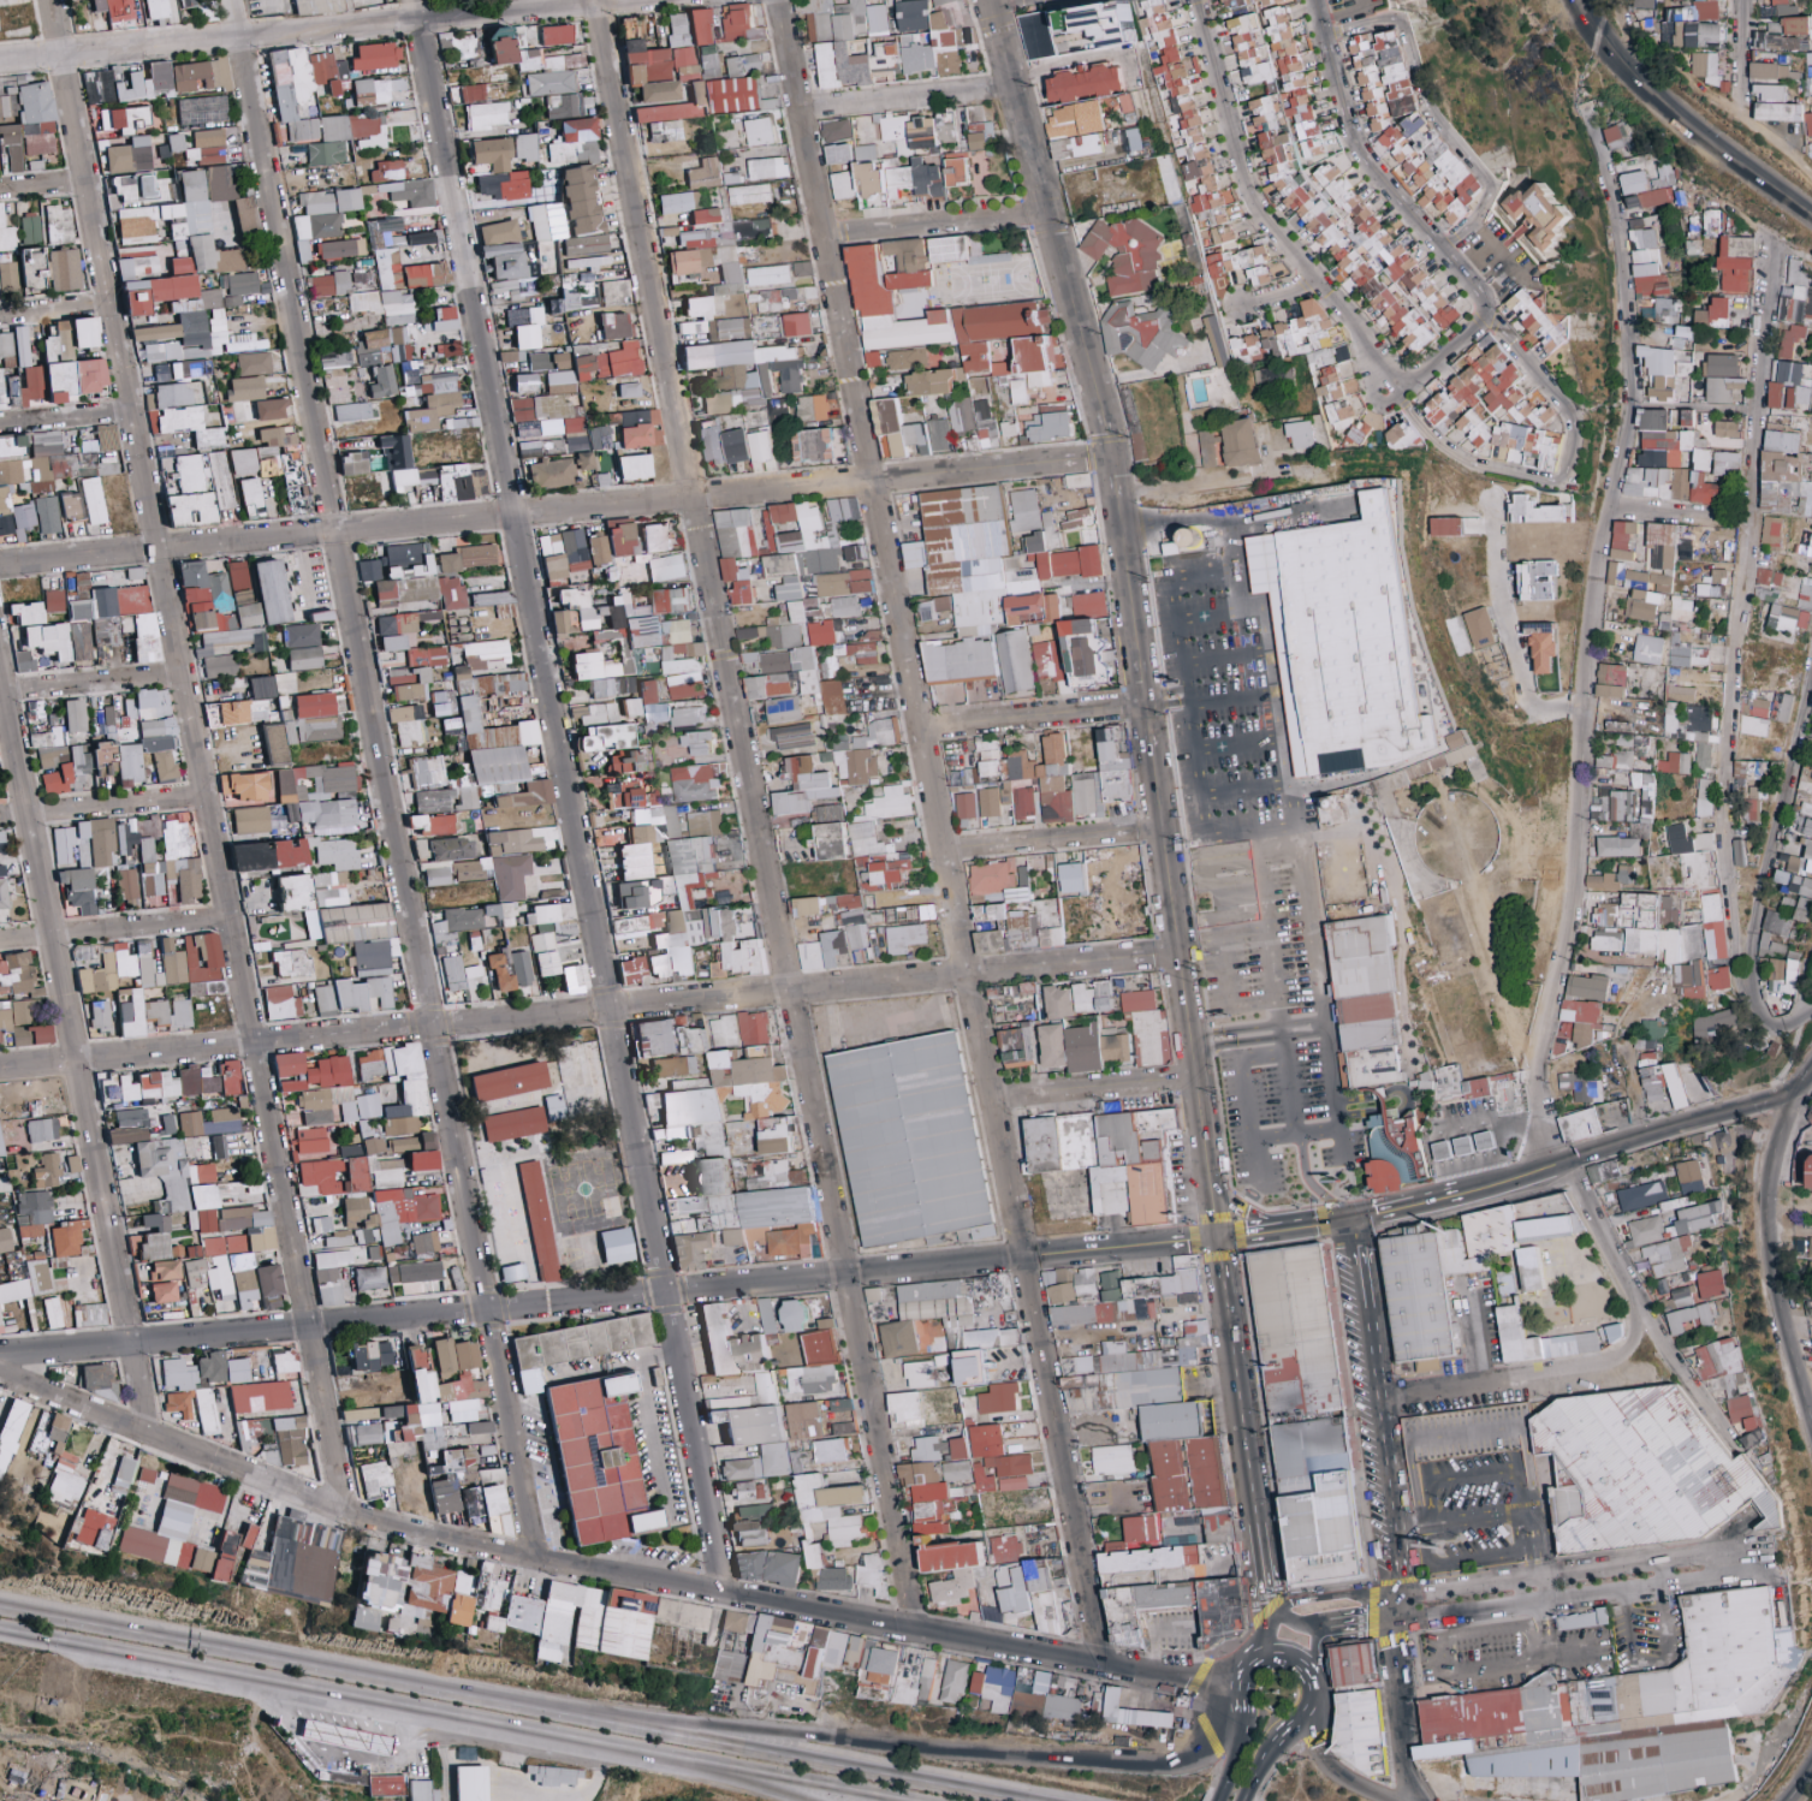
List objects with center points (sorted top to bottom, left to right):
building: (203, 0)
building: (391, 1)
building: (1267, 1)
building: (1778, 1)
building: (190, 4)
building: (1235, 4)
building: (1642, 4)
building: (100, 5)
building: (145, 5)
building: (349, 5)
building: (303, 6)
building: (326, 6)
building: (158, 8)
building: (120, 10)
building: (208, 10)
building: (1704, 10)
building: (1786, 10)
road: (279, 13)
building: (183, 14)
building: (913, 14)
road: (237, 17)
building: (183, 18)
building: (832, 18)
building: (875, 18)
building: (1070, 20)
building: (161, 22)
building: (738, 23)
building: (1107, 23)
building: (1796, 24)
building: (701, 26)
building: (1671, 28)
building: (679, 29)
building: (556, 34)
building: (1705, 34)
building: (1035, 35)
building: (938, 40)
building: (1780, 41)
building: (459, 43)
building: (500, 44)
building: (1250, 49)
road: (1742, 50)
building: (684, 55)
building: (375, 57)
building: (708, 58)
road: (1616, 58)
building: (545, 60)
building: (856, 63)
building: (743, 64)
road: (1600, 65)
building: (647, 66)
building: (1706, 66)
building: (1769, 71)
building: (200, 75)
building: (145, 82)
building: (549, 82)
building: (1086, 83)
building: (100, 84)
building: (376, 89)
building: (1770, 91)
building: (473, 93)
building: (735, 96)
building: (295, 105)
building: (563, 105)
building: (202, 109)
building: (1780, 112)
building: (486, 115)
building: (671, 115)
building: (1074, 118)
building: (125, 119)
building: (1807, 124)
building: (946, 126)
building: (836, 127)
building: (1409, 127)
building: (760, 131)
building: (978, 135)
building: (1618, 137)
building: (574, 139)
building: (1134, 139)
building: (176, 142)
building: (10, 147)
building: (525, 147)
building: (1076, 147)
building: (492, 153)
building: (838, 154)
building: (910, 156)
building: (767, 167)
building: (388, 170)
building: (868, 172)
building: (956, 172)
building: (703, 174)
building: (219, 184)
building: (504, 185)
building: (842, 185)
building: (1647, 188)
building: (408, 191)
building: (748, 194)
building: (581, 200)
building: (316, 201)
building: (676, 202)
building: (244, 214)
building: (1538, 214)
building: (327, 216)
building: (547, 221)
building: (1710, 222)
building: (59, 224)
building: (182, 226)
building: (31, 228)
building: (721, 228)
building: (381, 230)
building: (498, 231)
building: (6, 233)
building: (414, 239)
building: (586, 244)
building: (340, 249)
building: (949, 249)
building: (303, 251)
building: (1125, 254)
building: (505, 258)
building: (588, 262)
building: (1645, 263)
building: (1734, 263)
building: (1235, 264)
building: (137, 266)
building: (801, 268)
building: (34, 269)
building: (64, 269)
building: (684, 269)
building: (426, 275)
building: (766, 275)
building: (7, 277)
building: (329, 284)
building: (506, 290)
building: (385, 292)
building: (614, 292)
building: (788, 293)
building: (1795, 296)
building: (572, 298)
building: (768, 301)
building: (988, 314)
building: (1712, 314)
building: (188, 315)
building: (695, 315)
building: (444, 317)
building: (1533, 320)
building: (525, 326)
building: (731, 326)
building: (84, 332)
building: (1137, 334)
building: (1789, 337)
building: (63, 340)
building: (1216, 341)
building: (400, 343)
building: (1243, 345)
building: (372, 346)
building: (6, 349)
building: (446, 350)
building: (507, 356)
building: (871, 358)
building: (1317, 358)
building: (333, 359)
building: (547, 361)
building: (619, 361)
building: (254, 363)
building: (583, 364)
building: (1719, 364)
building: (30, 367)
building: (1024, 367)
building: (744, 372)
building: (90, 374)
building: (59, 381)
building: (382, 381)
building: (439, 381)
building: (525, 382)
building: (562, 382)
building: (1790, 385)
building: (245, 388)
building: (1722, 388)
building: (629, 390)
building: (1481, 399)
building: (812, 408)
building: (271, 409)
building: (352, 411)
building: (430, 411)
building: (182, 416)
building: (546, 416)
building: (961, 416)
building: (1686, 417)
building: (461, 418)
building: (982, 422)
building: (637, 427)
building: (1052, 427)
building: (889, 428)
building: (1009, 428)
building: (1725, 428)
building: (938, 434)
building: (1299, 434)
building: (1400, 435)
building: (600, 436)
building: (916, 436)
building: (1659, 439)
building: (708, 441)
building: (1240, 442)
building: (760, 445)
building: (816, 445)
building: (541, 446)
building: (735, 446)
building: (1522, 446)
building: (1207, 448)
building: (1700, 459)
building: (584, 460)
building: (275, 462)
building: (352, 463)
building: (402, 463)
building: (1725, 463)
building: (47, 464)
building: (634, 466)
building: (552, 472)
building: (1784, 474)
building: (1075, 480)
building: (459, 482)
building: (1645, 482)
building: (1677, 483)
building: (198, 489)
building: (1704, 489)
building: (250, 498)
building: (1023, 511)
building: (1537, 511)
building: (47, 515)
building: (23, 519)
building: (1076, 519)
building: (1445, 525)
building: (1771, 533)
building: (655, 537)
building: (622, 540)
building: (1658, 546)
building: (1804, 547)
building: (596, 548)
building: (809, 551)
building: (563, 553)
building: (736, 553)
building: (854, 553)
building: (469, 557)
building: (408, 560)
building: (1089, 560)
building: (665, 567)
building: (368, 570)
building: (135, 572)
building: (1634, 579)
building: (980, 581)
building: (1537, 581)
building: (1712, 584)
building: (1768, 584)
building: (399, 589)
building: (271, 592)
building: (385, 593)
building: (450, 593)
building: (1805, 594)
building: (243, 595)
building: (492, 598)
building: (53, 600)
building: (670, 600)
building: (1640, 605)
building: (842, 606)
building: (931, 607)
building: (1679, 610)
building: (26, 612)
building: (117, 616)
building: (214, 618)
building: (1786, 618)
building: (564, 622)
building: (388, 624)
building: (795, 626)
building: (1479, 628)
building: (302, 635)
building: (643, 637)
building: (49, 638)
building: (1087, 641)
building: (393, 642)
building: (1541, 644)
building: (1348, 647)
building: (1646, 649)
building: (1683, 653)
building: (435, 655)
building: (304, 658)
building: (1012, 660)
building: (24, 661)
building: (766, 661)
building: (599, 666)
building: (803, 667)
building: (1610, 680)
building: (409, 683)
building: (611, 685)
building: (766, 685)
building: (1679, 693)
building: (489, 695)
building: (832, 697)
building: (153, 701)
building: (444, 702)
building: (243, 705)
building: (314, 705)
building: (631, 706)
building: (652, 707)
building: (1766, 707)
building: (780, 709)
building: (35, 712)
building: (75, 715)
building: (121, 718)
building: (409, 724)
building: (156, 726)
building: (1754, 726)
building: (602, 727)
building: (319, 729)
building: (1688, 729)
building: (878, 733)
building: (791, 736)
building: (1626, 741)
building: (696, 742)
building: (275, 745)
building: (48, 747)
road: (192, 750)
building: (161, 755)
building: (987, 757)
building: (105, 759)
building: (1612, 760)
building: (628, 761)
building: (1673, 762)
building: (1113, 763)
building: (129, 765)
building: (854, 765)
building: (427, 772)
building: (69, 773)
building: (1747, 774)
building: (479, 778)
building: (1057, 781)
building: (290, 783)
building: (694, 783)
building: (801, 786)
building: (1644, 792)
road: (565, 793)
building: (528, 795)
building: (1703, 796)
building: (623, 797)
building: (987, 802)
building: (1022, 803)
building: (1610, 804)
building: (964, 809)
building: (292, 812)
building: (328, 815)
building: (251, 819)
building: (868, 820)
building: (702, 824)
building: (828, 831)
building: (176, 834)
building: (125, 837)
building: (2, 840)
building: (85, 844)
building: (337, 852)
building: (636, 854)
building: (269, 855)
building: (440, 857)
building: (506, 860)
building: (1, 870)
building: (890, 870)
building: (168, 875)
building: (127, 884)
building: (78, 888)
building: (331, 888)
building: (642, 892)
building: (491, 910)
building: (547, 913)
building: (333, 914)
building: (456, 923)
building: (202, 956)
building: (124, 961)
building: (95, 968)
building: (16, 973)
gas station: (1480, 1137)
gas station: (1458, 1142)
gas station: (1437, 1147)
park: (1260, 1708)
gas station: (347, 1736)

